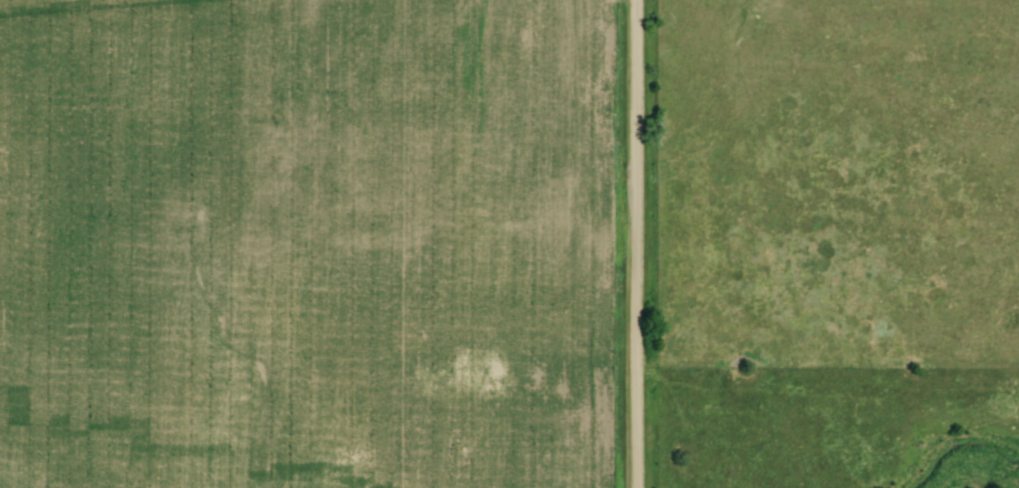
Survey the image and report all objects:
road: (636, 244)

